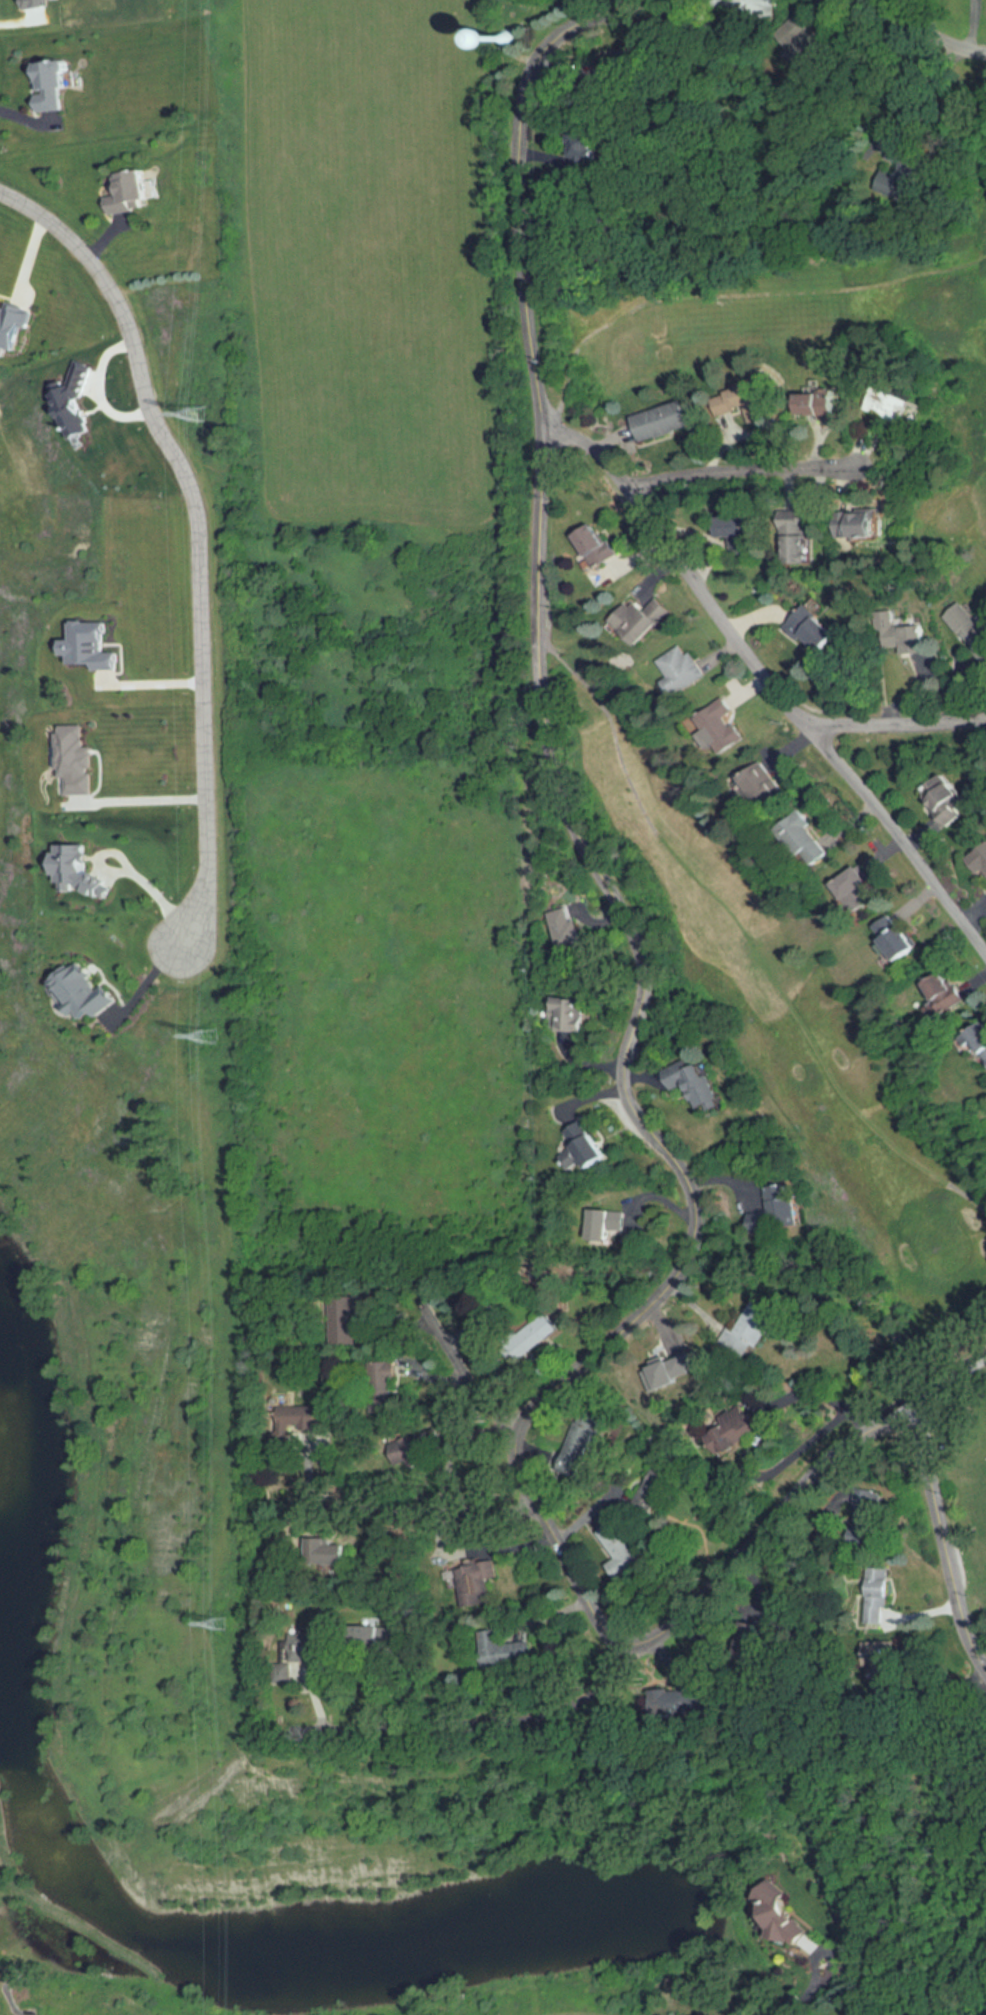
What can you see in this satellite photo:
road: (929, 30)
water tower: (501, 46)
road: (921, 83)
building: (584, 150)
building: (903, 174)
building: (134, 192)
building: (747, 401)
building: (893, 403)
power tower: (199, 414)
building: (663, 421)
road: (749, 463)
building: (862, 523)
building: (739, 532)
road: (200, 536)
building: (598, 544)
building: (802, 548)
road: (721, 610)
building: (640, 619)
building: (816, 630)
building: (968, 631)
building: (682, 669)
road: (153, 679)
park: (790, 693)
building: (721, 727)
building: (764, 785)
road: (137, 799)
building: (945, 803)
road: (898, 828)
building: (808, 838)
building: (980, 861)
road: (596, 865)
road: (132, 867)
building: (858, 888)
building: (569, 930)
building: (900, 938)
road: (144, 981)
building: (948, 991)
building: (570, 1014)
building: (981, 1036)
power tower: (214, 1037)
building: (697, 1083)
building: (586, 1146)
building: (783, 1209)
building: (603, 1226)
building: (541, 1330)
building: (752, 1332)
road: (964, 1361)
road: (468, 1369)
building: (295, 1419)
building: (732, 1428)
road: (756, 1439)
building: (426, 1447)
building: (656, 1492)
road: (426, 1508)
road: (942, 1516)
building: (621, 1552)
road: (481, 1553)
building: (333, 1555)
road: (764, 1580)
building: (472, 1584)
building: (871, 1593)
power tower: (225, 1625)
road: (666, 1625)
building: (306, 1647)
building: (502, 1651)
road: (807, 1992)

